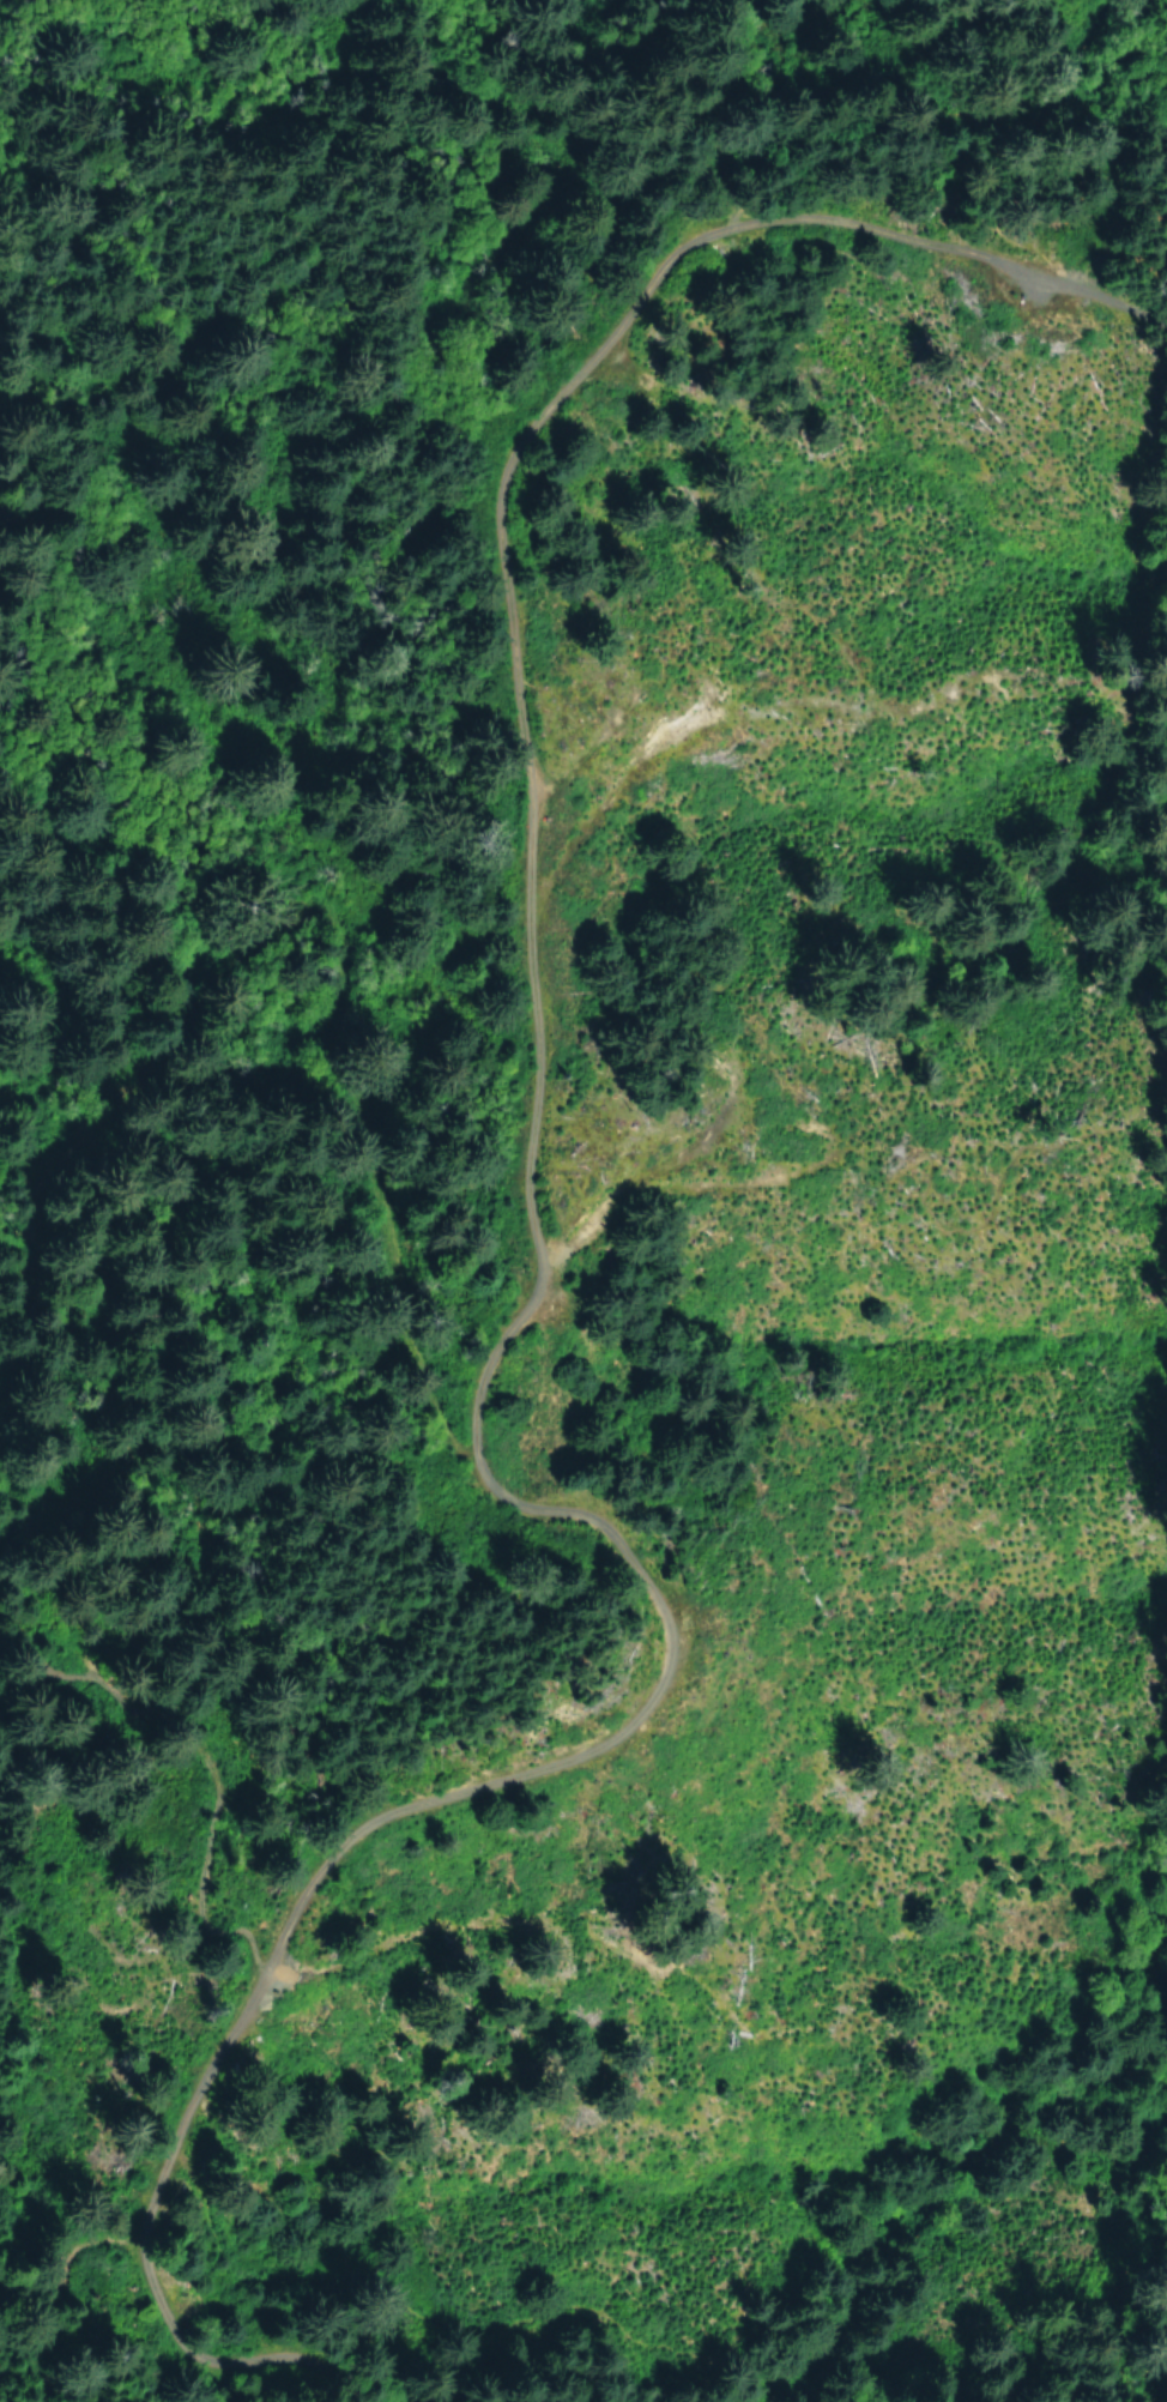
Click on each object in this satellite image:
road: (503, 473)
road: (278, 921)
road: (887, 1171)
road: (193, 1758)
road: (419, 1803)

